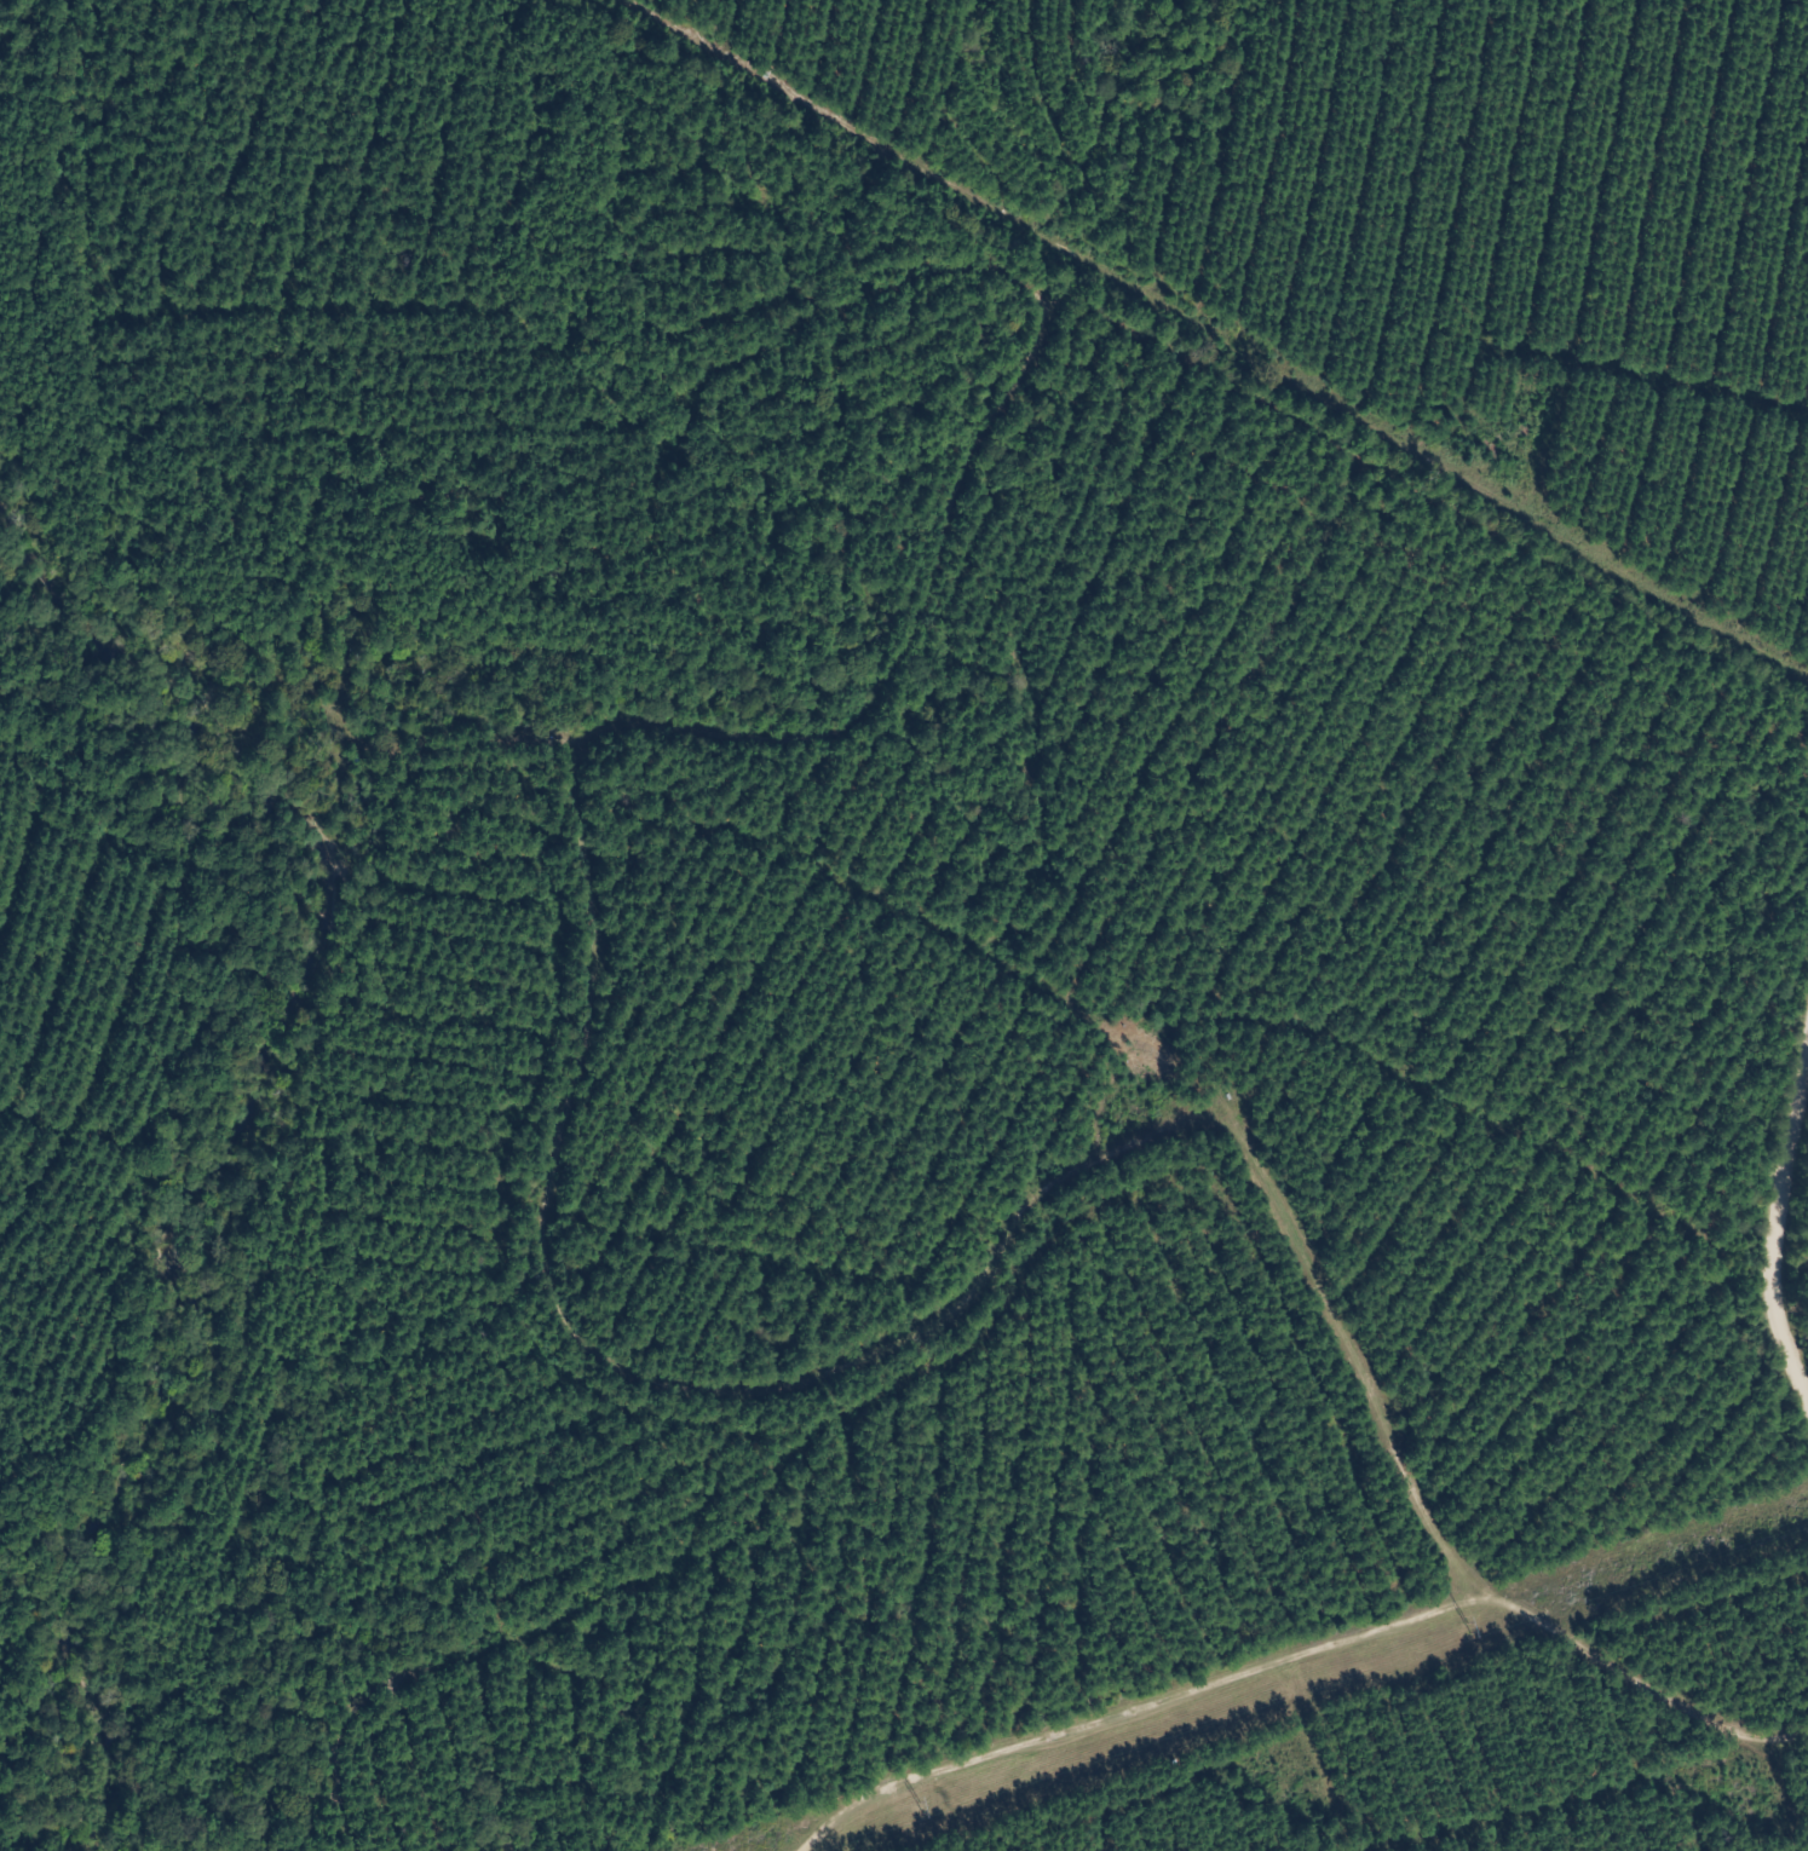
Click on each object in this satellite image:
road: (1786, 1241)
power tower: (1463, 1628)
power tower: (917, 1807)
road: (1792, 1840)

